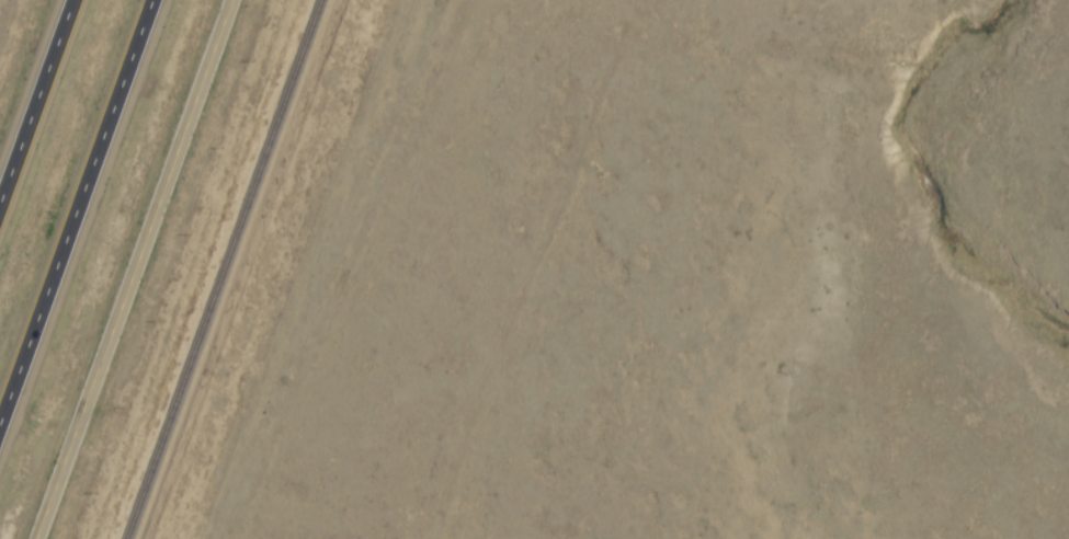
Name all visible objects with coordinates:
road: (39, 105)
road: (78, 222)
road: (136, 269)
railway: (219, 269)

